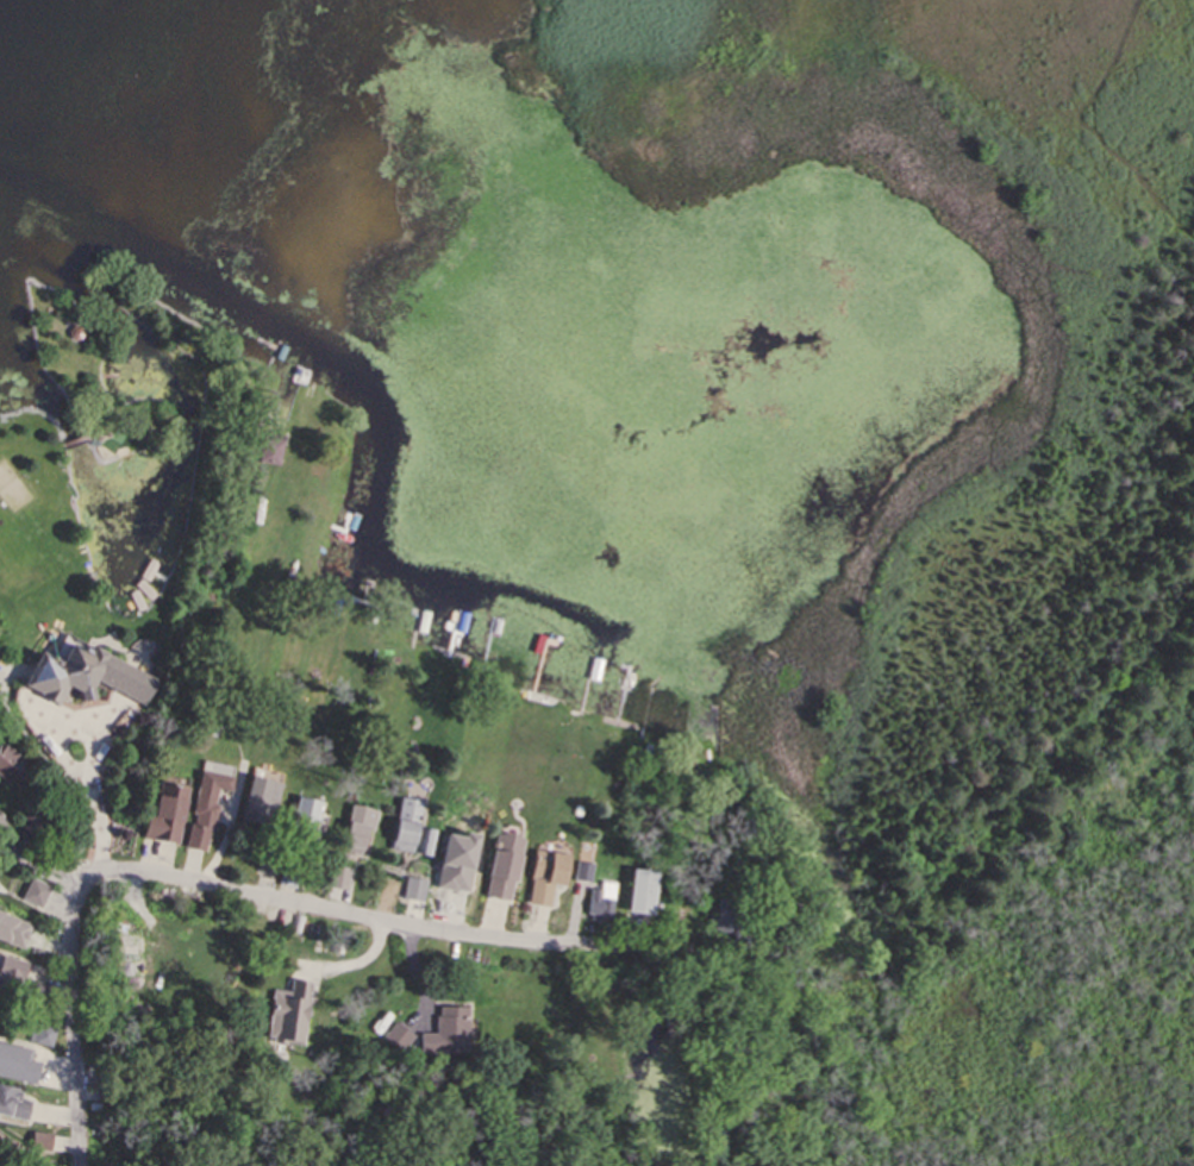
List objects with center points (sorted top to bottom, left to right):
building: (88, 677)
building: (263, 801)
road: (89, 805)
building: (207, 809)
building: (169, 819)
building: (308, 820)
building: (1, 821)
building: (358, 832)
building: (407, 838)
building: (507, 866)
building: (549, 877)
building: (289, 879)
building: (339, 885)
building: (645, 894)
road: (298, 902)
building: (602, 903)
building: (14, 930)
building: (290, 1015)
building: (449, 1034)
building: (402, 1036)
building: (14, 1105)

